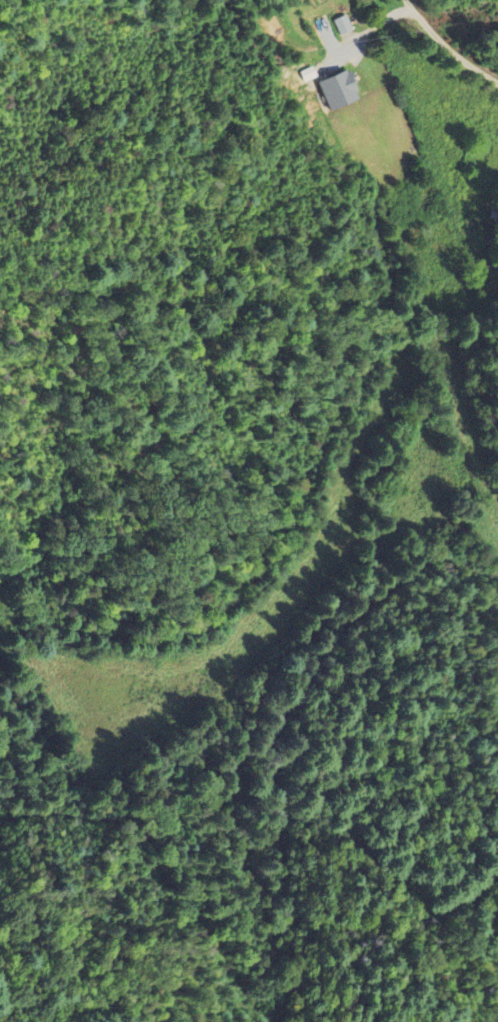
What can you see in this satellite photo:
road: (456, 51)
building: (338, 92)

